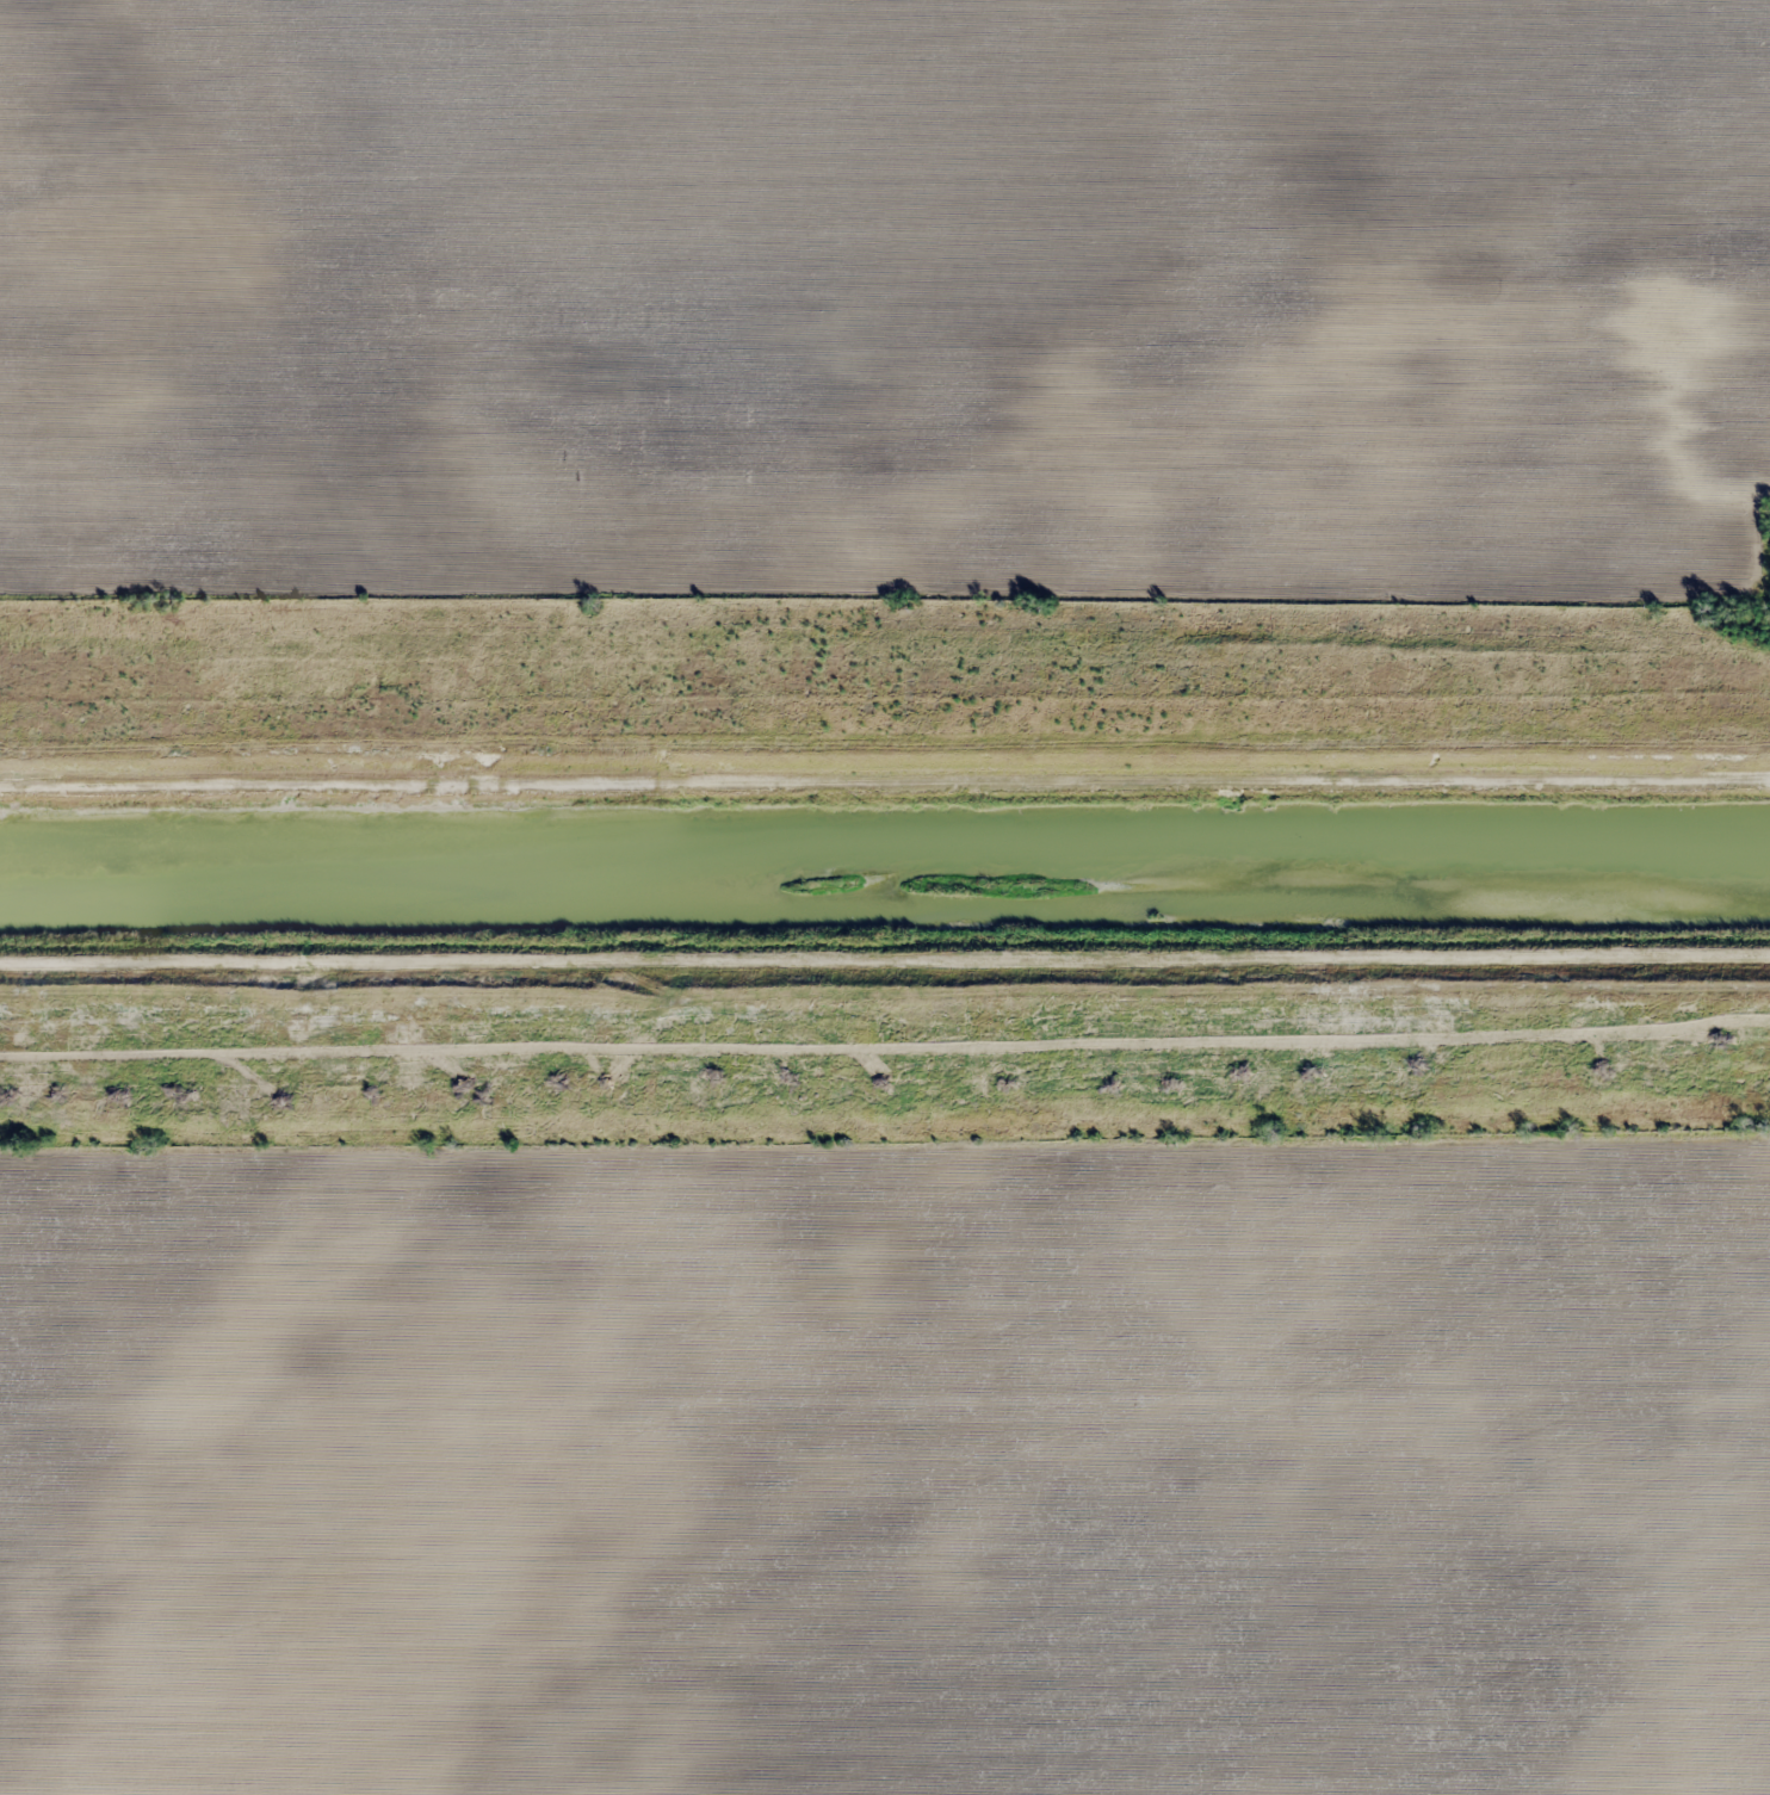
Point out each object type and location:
road: (885, 1418)

